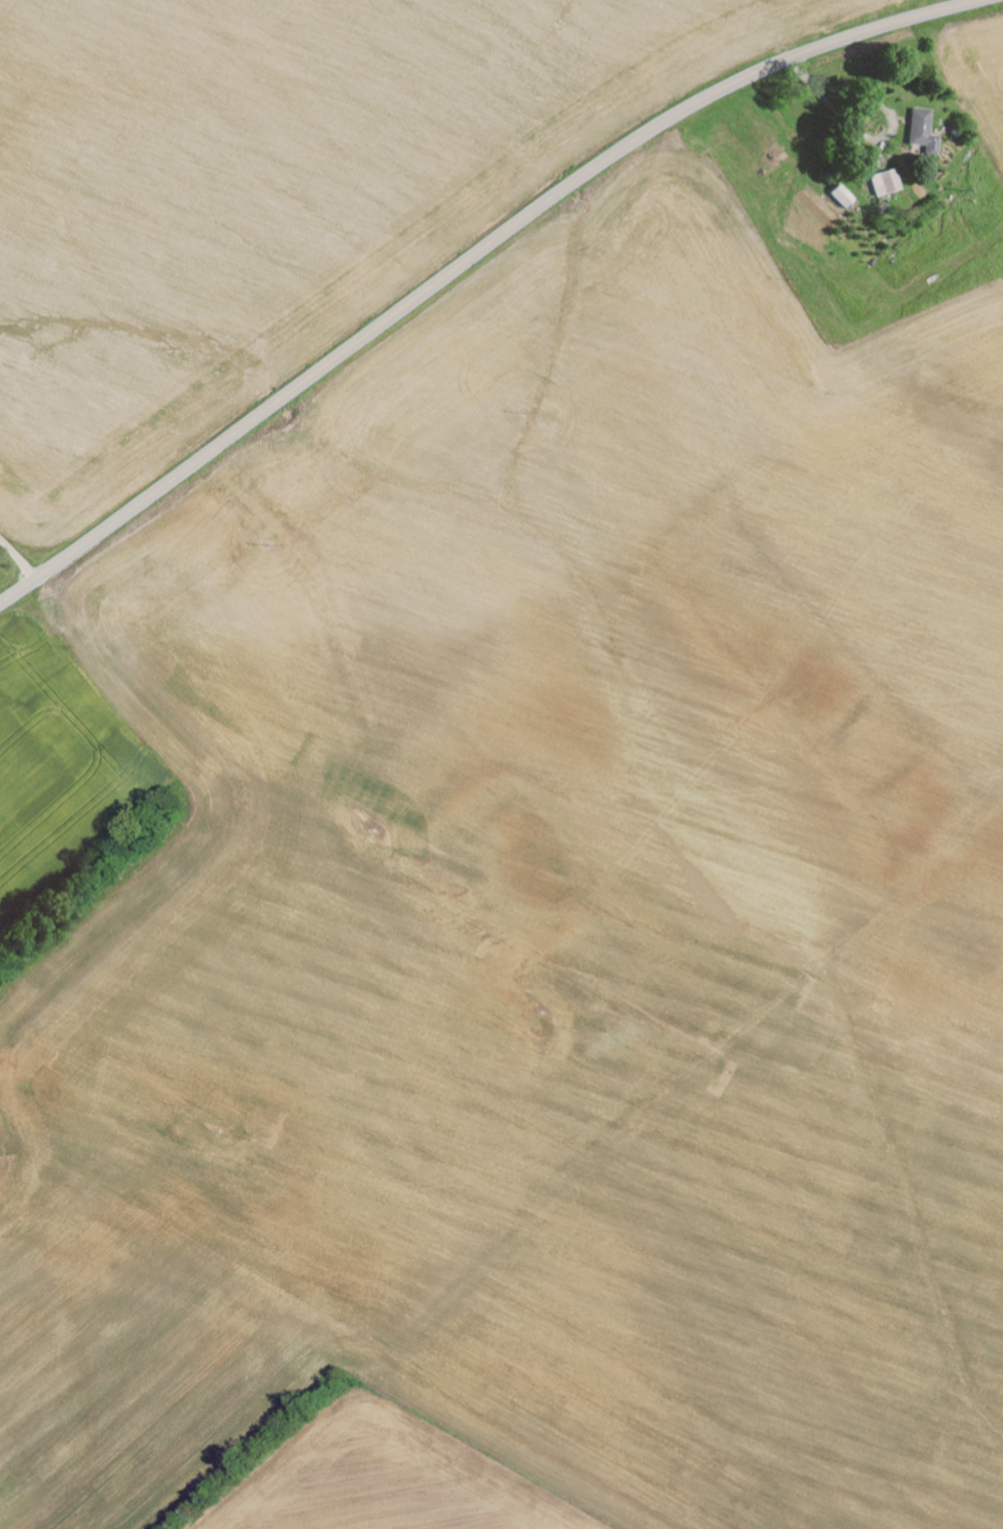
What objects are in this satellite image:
building: (884, 181)
road: (469, 259)
road: (17, 560)

